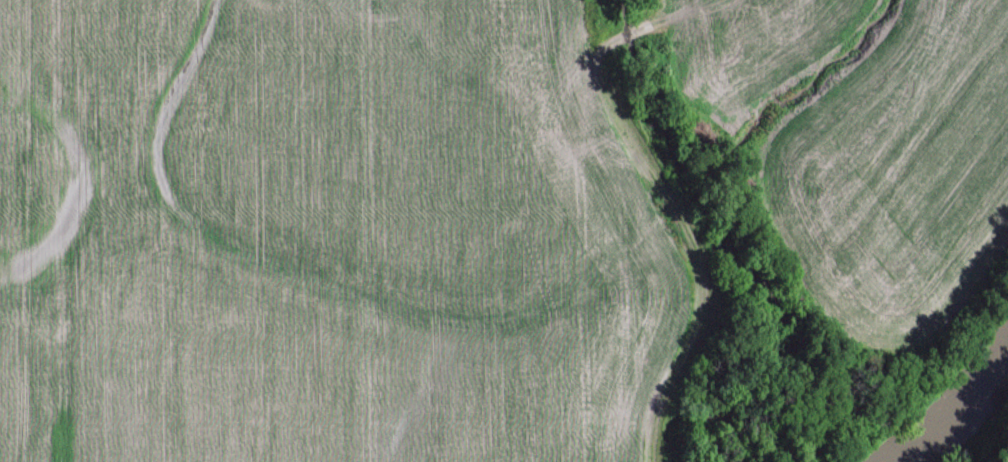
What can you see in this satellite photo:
river: (949, 395)

